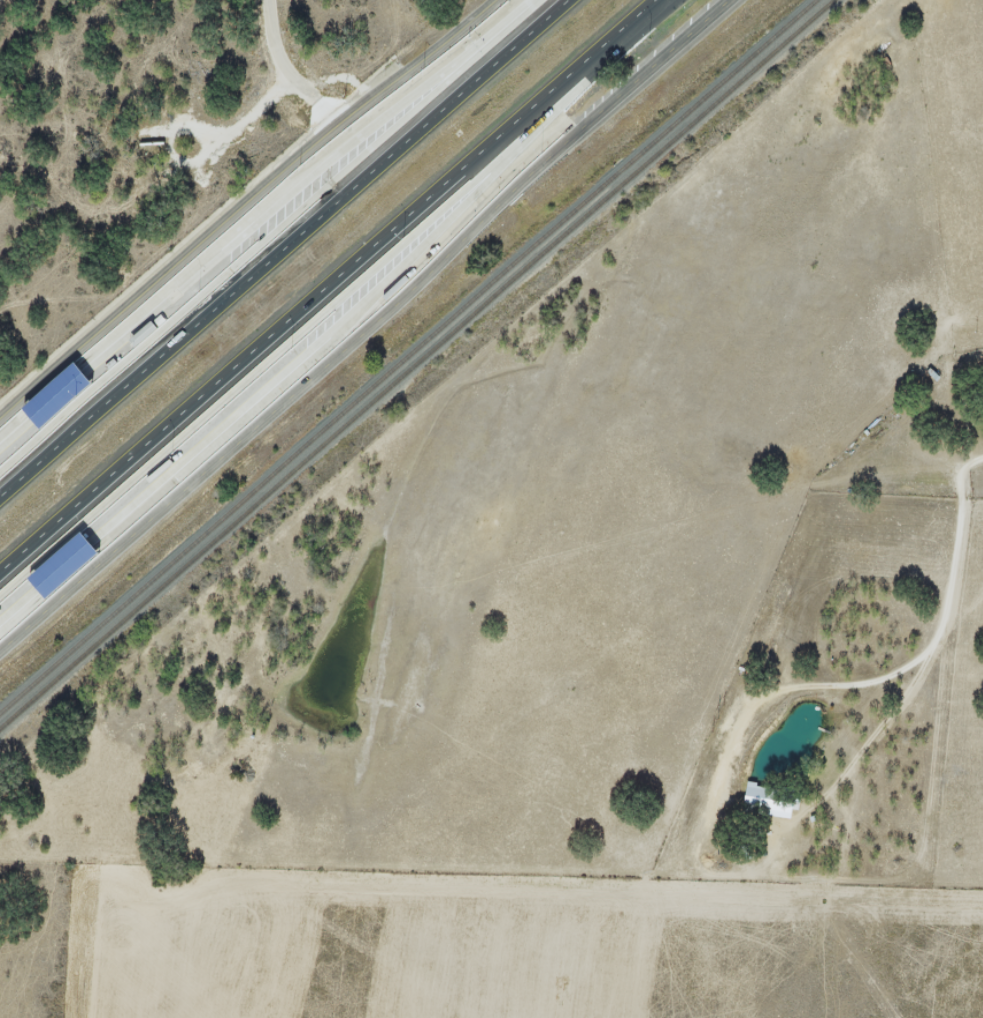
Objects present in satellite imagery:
road: (297, 63)
road: (244, 203)
road: (284, 248)
road: (327, 286)
road: (367, 331)
building: (143, 334)
railway: (407, 355)
railway: (416, 364)
building: (56, 396)
building: (60, 566)
road: (930, 646)

